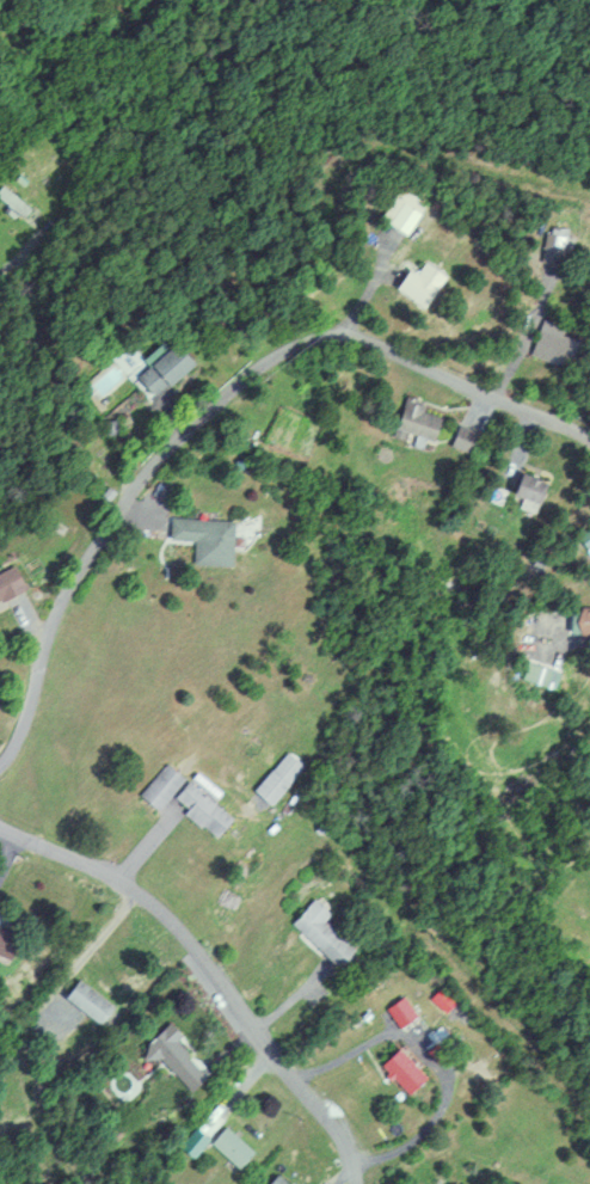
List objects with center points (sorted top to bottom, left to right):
building: (401, 210)
building: (551, 247)
building: (417, 282)
building: (558, 345)
building: (159, 368)
road: (210, 399)
building: (412, 417)
building: (461, 436)
building: (524, 486)
building: (202, 538)
building: (8, 582)
building: (580, 620)
building: (533, 671)
building: (276, 777)
building: (159, 786)
building: (199, 809)
building: (318, 932)
building: (4, 940)
road: (90, 945)
road: (209, 971)
building: (87, 1001)
building: (398, 1010)
building: (164, 1048)
building: (400, 1069)
building: (190, 1142)
building: (228, 1146)
building: (274, 1179)

